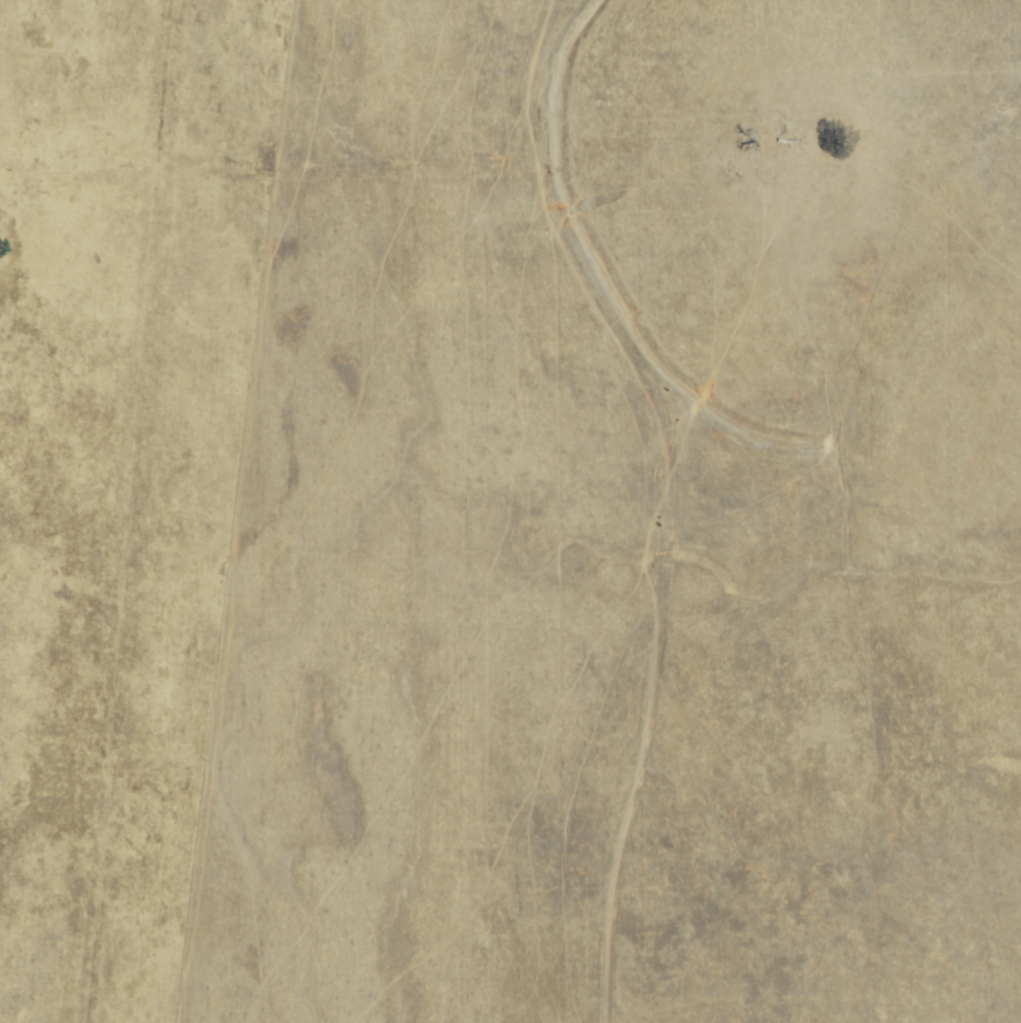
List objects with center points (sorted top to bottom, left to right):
road: (665, 495)
road: (130, 511)

